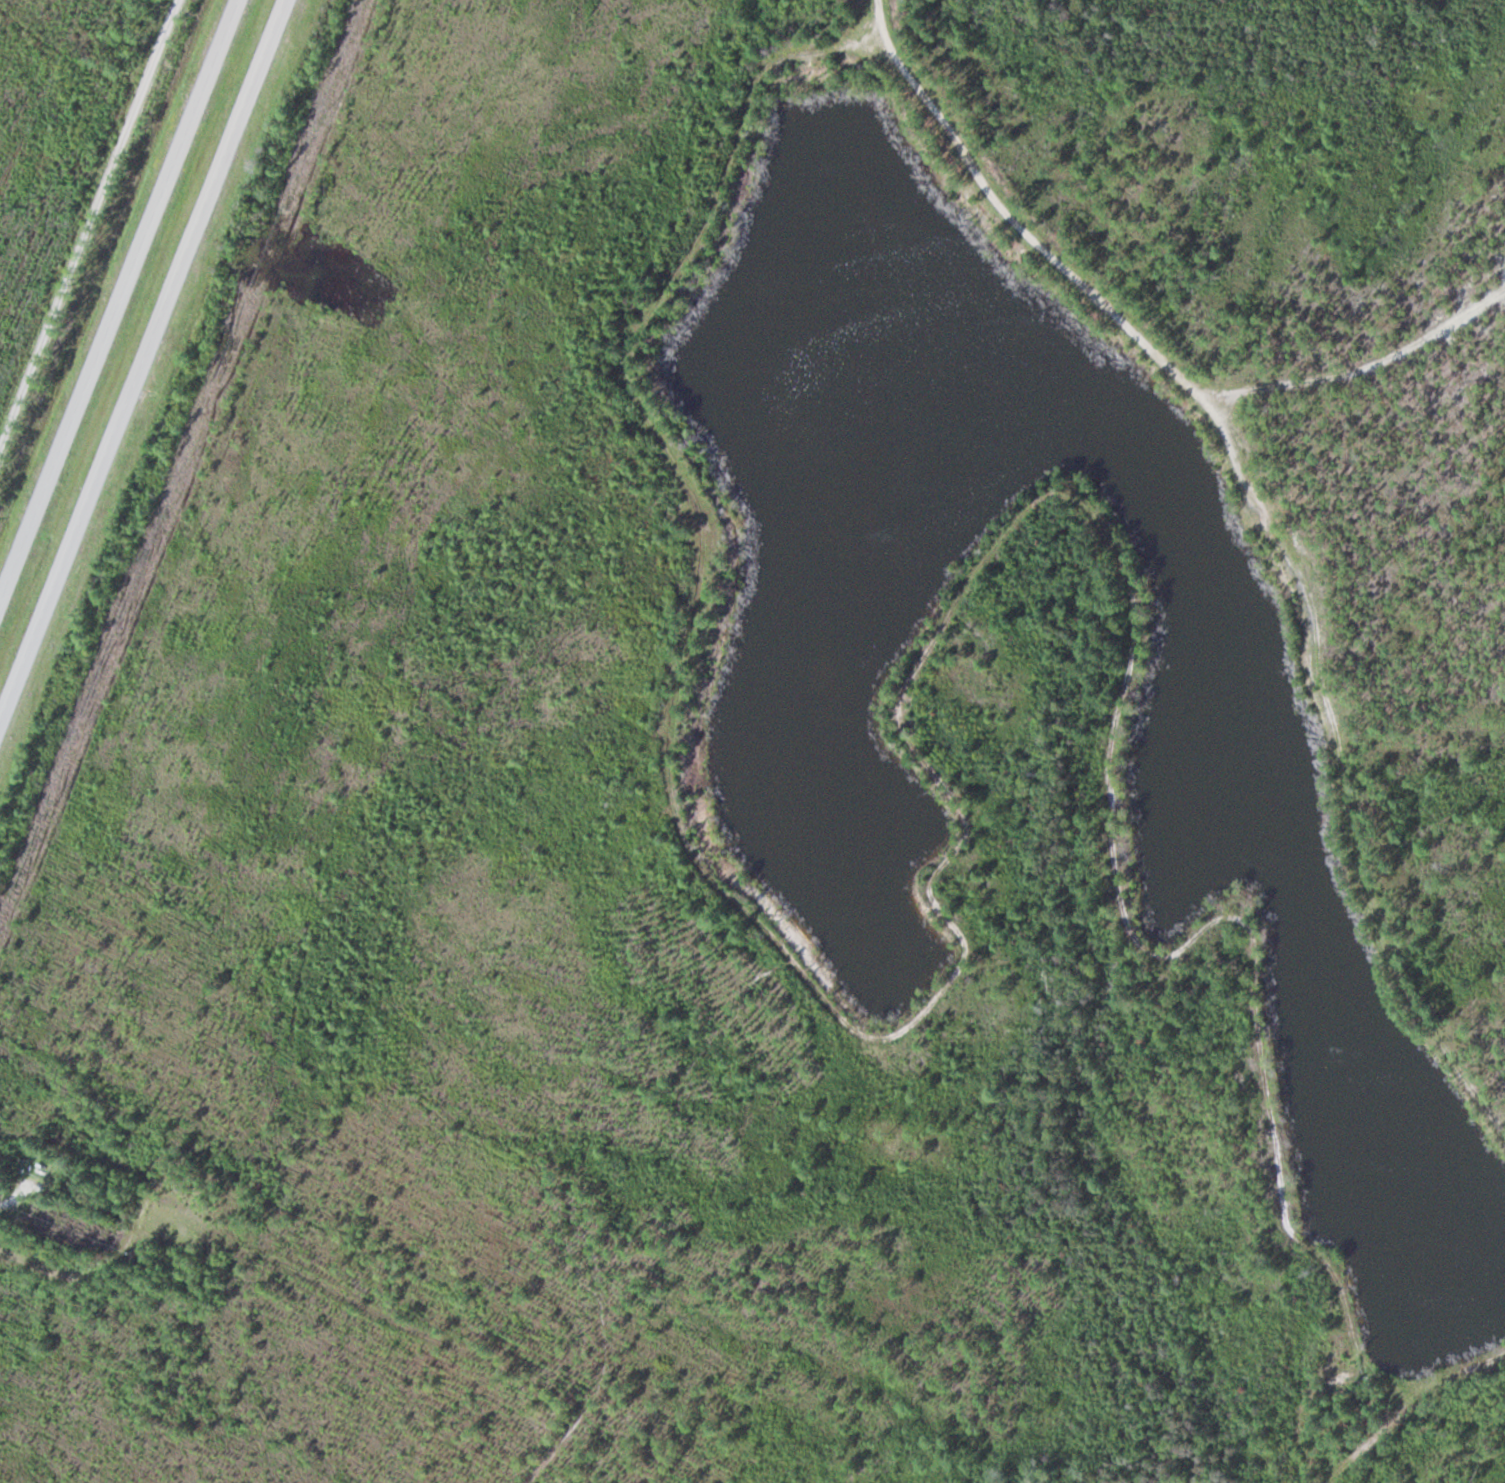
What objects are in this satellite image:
road: (878, 10)
road: (87, 221)
road: (87, 221)
road: (1027, 230)
road: (120, 304)
road: (142, 361)
road: (1368, 364)
road: (934, 770)
road: (1345, 773)

